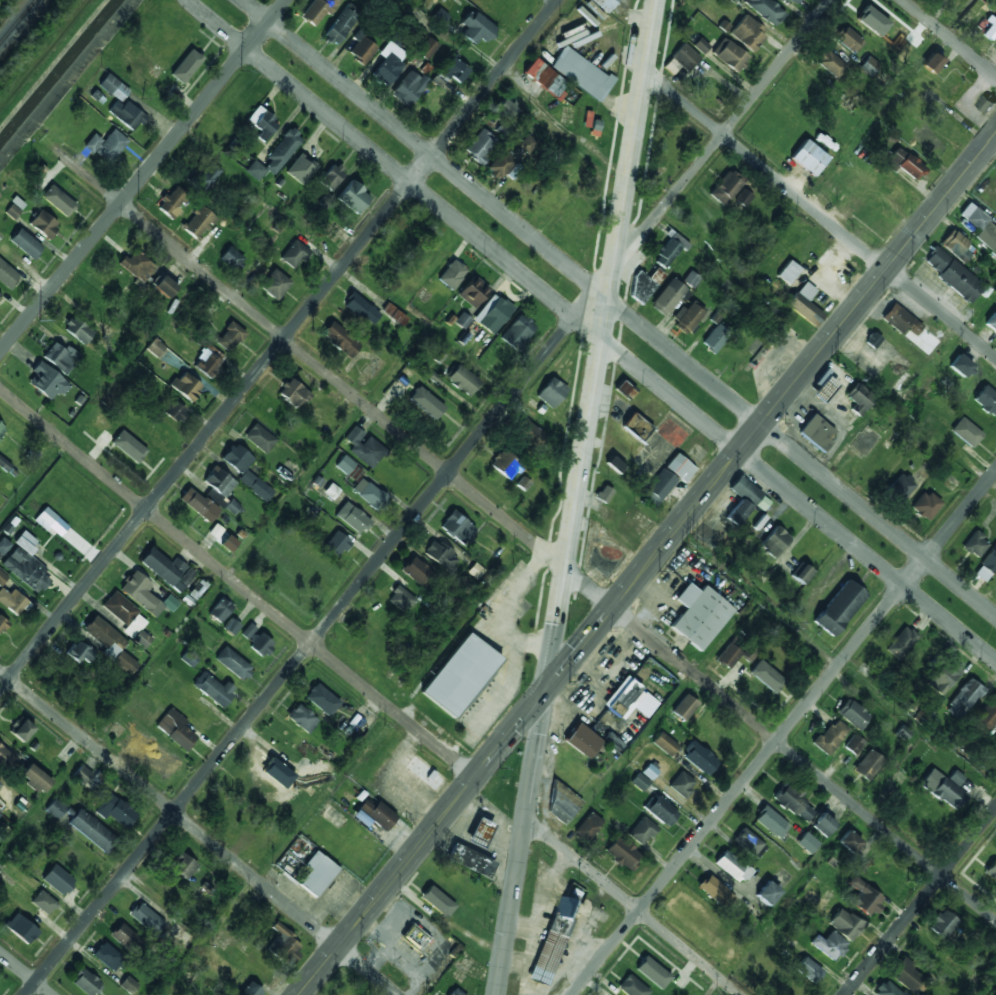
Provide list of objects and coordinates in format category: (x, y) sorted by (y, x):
building: (732, 1)
building: (794, 1)
building: (603, 4)
building: (318, 10)
building: (765, 11)
building: (869, 18)
railway: (16, 20)
building: (476, 28)
building: (990, 30)
building: (748, 33)
road: (952, 36)
building: (909, 39)
building: (850, 41)
building: (700, 45)
building: (426, 48)
building: (362, 50)
building: (729, 56)
building: (684, 57)
building: (931, 63)
building: (388, 64)
building: (830, 64)
building: (186, 66)
building: (869, 67)
building: (450, 72)
building: (581, 74)
building: (543, 78)
building: (953, 86)
building: (113, 87)
building: (408, 88)
building: (986, 103)
building: (126, 114)
building: (506, 115)
building: (262, 123)
building: (928, 142)
building: (526, 143)
building: (106, 145)
building: (480, 145)
building: (672, 146)
building: (282, 150)
building: (808, 157)
building: (906, 164)
building: (500, 165)
building: (301, 168)
road: (628, 168)
building: (255, 170)
building: (202, 175)
road: (143, 176)
building: (331, 177)
building: (836, 184)
building: (726, 188)
building: (891, 188)
building: (353, 196)
building: (743, 197)
building: (58, 200)
building: (172, 200)
building: (13, 208)
road: (819, 213)
building: (876, 216)
building: (199, 221)
building: (43, 224)
building: (980, 227)
building: (25, 243)
building: (956, 245)
building: (668, 251)
building: (294, 254)
building: (232, 258)
building: (136, 265)
building: (788, 271)
building: (952, 274)
building: (6, 275)
building: (451, 275)
building: (691, 279)
building: (275, 284)
building: (646, 284)
building: (164, 285)
building: (470, 293)
building: (0, 295)
building: (668, 297)
building: (806, 305)
road: (618, 307)
building: (361, 308)
building: (393, 314)
building: (492, 315)
building: (689, 317)
building: (902, 320)
building: (462, 321)
building: (991, 322)
road: (592, 329)
building: (78, 330)
building: (515, 333)
building: (229, 337)
building: (715, 338)
building: (340, 339)
building: (872, 339)
road: (279, 345)
building: (155, 347)
building: (60, 357)
building: (171, 359)
building: (206, 363)
building: (962, 366)
building: (462, 380)
building: (46, 381)
building: (186, 386)
building: (624, 389)
building: (825, 390)
building: (551, 392)
building: (292, 393)
building: (860, 399)
building: (987, 400)
building: (426, 403)
building: (175, 411)
building: (435, 414)
building: (636, 426)
building: (1, 428)
building: (967, 432)
building: (526, 433)
building: (817, 433)
building: (259, 438)
building: (128, 446)
building: (364, 447)
road: (583, 459)
building: (503, 463)
building: (5, 464)
building: (615, 464)
building: (348, 467)
building: (245, 471)
building: (667, 478)
building: (523, 484)
building: (900, 487)
building: (221, 490)
building: (331, 491)
building: (369, 493)
building: (604, 494)
road: (428, 497)
building: (744, 500)
building: (198, 504)
building: (925, 505)
building: (352, 517)
building: (50, 521)
building: (456, 527)
road: (525, 534)
building: (776, 542)
building: (336, 544)
building: (3, 545)
building: (975, 545)
building: (441, 556)
building: (990, 560)
building: (25, 563)
road: (648, 564)
building: (167, 569)
building: (800, 572)
building: (419, 573)
building: (2, 578)
building: (194, 592)
building: (144, 595)
building: (400, 598)
building: (12, 601)
building: (840, 607)
building: (220, 609)
building: (699, 615)
building: (127, 618)
building: (2, 623)
building: (231, 626)
road: (555, 636)
building: (256, 640)
building: (108, 641)
building: (901, 642)
building: (80, 651)
building: (734, 655)
building: (232, 663)
building: (460, 674)
building: (944, 676)
building: (763, 681)
building: (213, 688)
road: (370, 692)
traffic signals: (546, 692)
building: (963, 698)
building: (321, 699)
building: (629, 700)
building: (684, 708)
building: (852, 714)
building: (302, 718)
building: (985, 718)
building: (21, 729)
building: (175, 729)
road: (783, 732)
building: (829, 737)
building: (583, 740)
building: (138, 741)
building: (994, 743)
road: (537, 744)
building: (664, 744)
building: (854, 745)
building: (6, 757)
building: (698, 757)
building: (161, 760)
building: (867, 765)
building: (568, 770)
building: (651, 770)
building: (320, 772)
building: (424, 773)
building: (81, 774)
building: (955, 777)
building: (35, 778)
building: (0, 782)
building: (640, 782)
building: (682, 785)
building: (943, 790)
building: (793, 803)
building: (562, 804)
building: (114, 810)
building: (662, 812)
building: (373, 814)
building: (770, 823)
building: (82, 825)
building: (822, 825)
building: (587, 827)
building: (641, 831)
road: (199, 832)
building: (478, 832)
building: (748, 842)
building: (849, 843)
building: (806, 844)
building: (622, 854)
building: (469, 860)
building: (182, 865)
building: (732, 867)
building: (991, 871)
building: (317, 874)
building: (781, 877)
building: (446, 878)
building: (58, 880)
building: (715, 891)
building: (767, 894)
road: (512, 895)
building: (863, 898)
building: (437, 901)
road: (920, 901)
building: (44, 902)
building: (691, 916)
building: (146, 918)
building: (844, 924)
building: (942, 924)
building: (22, 929)
building: (180, 935)
building: (123, 936)
building: (415, 937)
building: (552, 941)
building: (284, 944)
building: (829, 946)
building: (106, 956)
building: (648, 966)
building: (808, 970)
road: (25, 973)
building: (908, 977)
building: (85, 982)
building: (128, 985)
building: (631, 987)
building: (885, 989)
building: (250, 990)
building: (454, 992)

